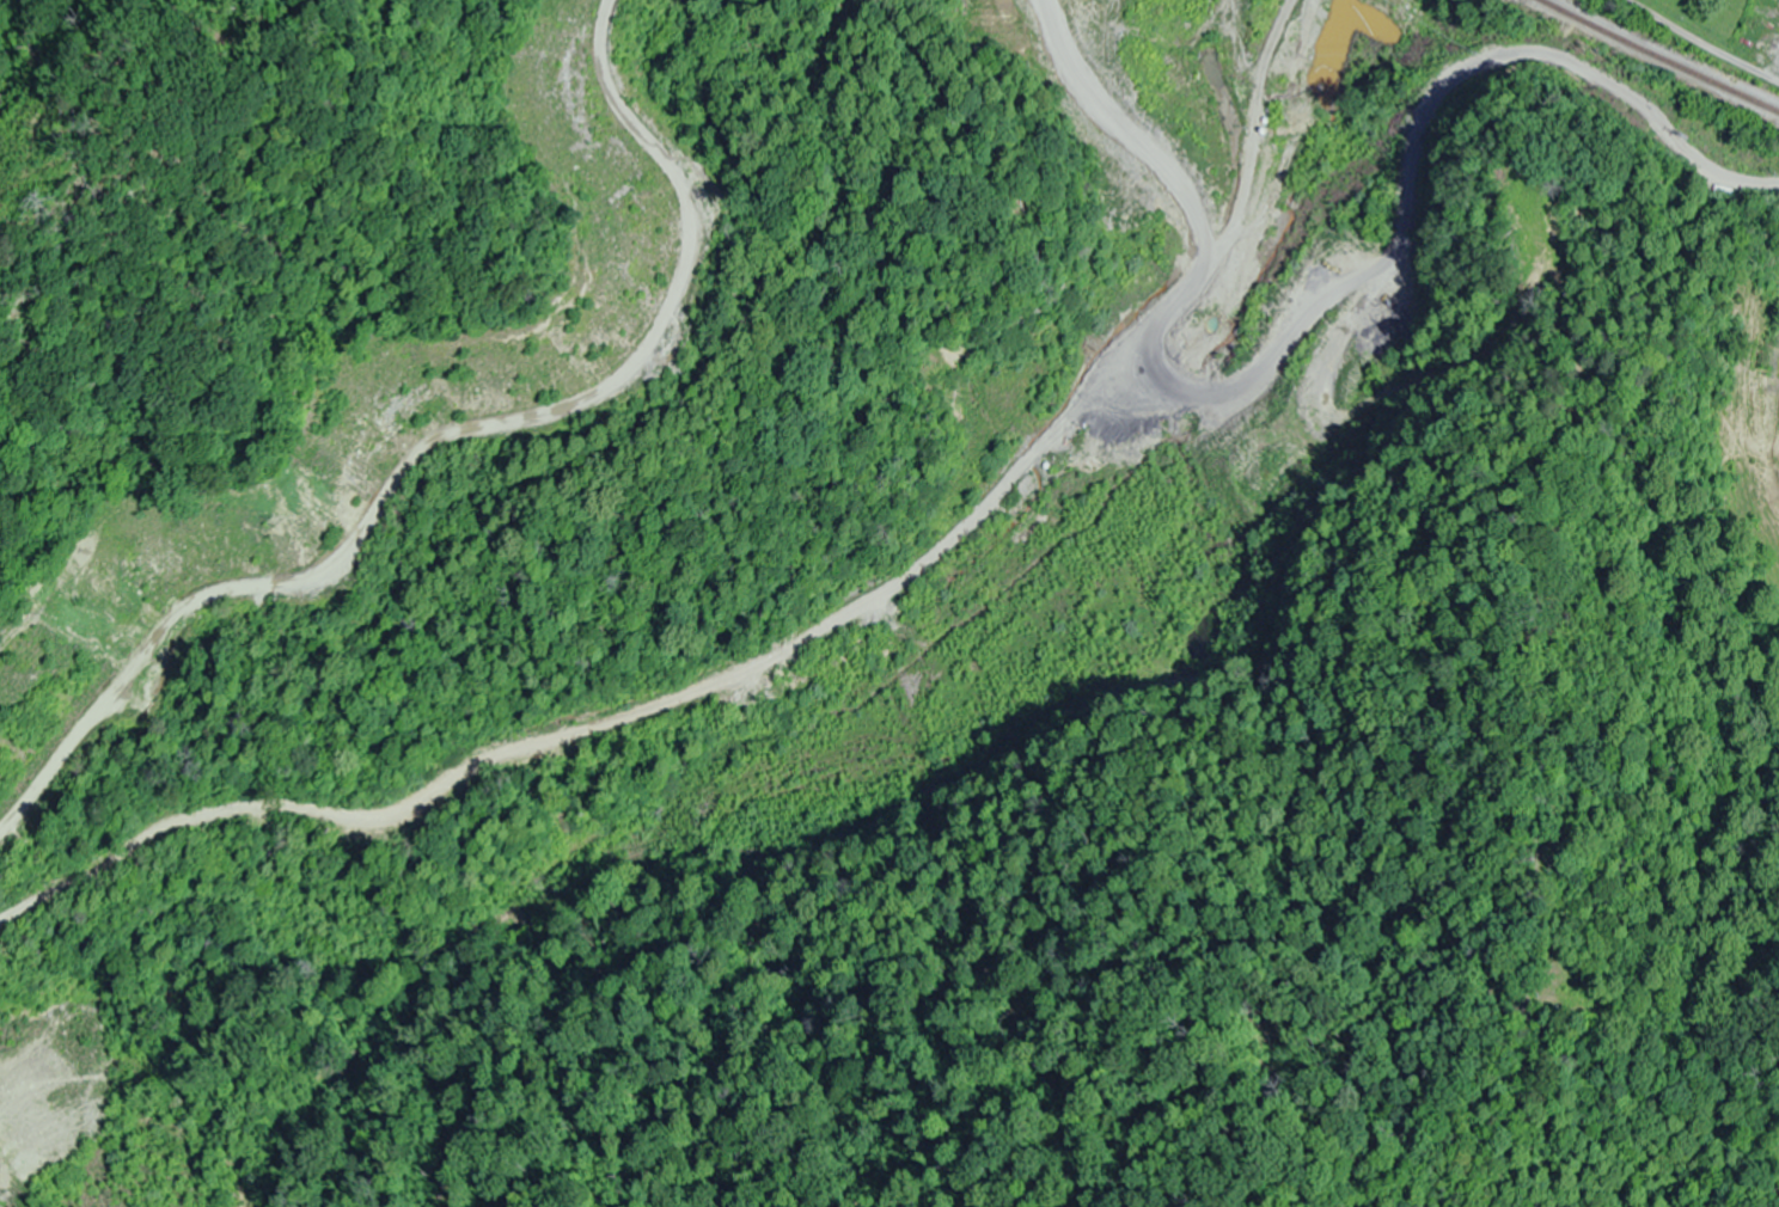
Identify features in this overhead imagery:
road: (1702, 42)
railway: (1658, 59)

